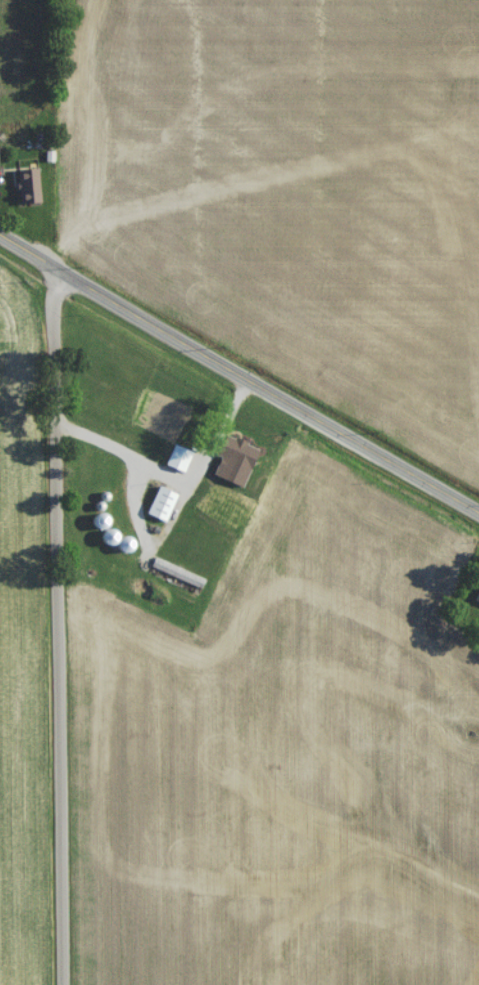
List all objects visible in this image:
road: (238, 371)
building: (238, 457)
building: (178, 462)
building: (163, 507)
building: (177, 577)
building: (477, 598)
road: (60, 625)

